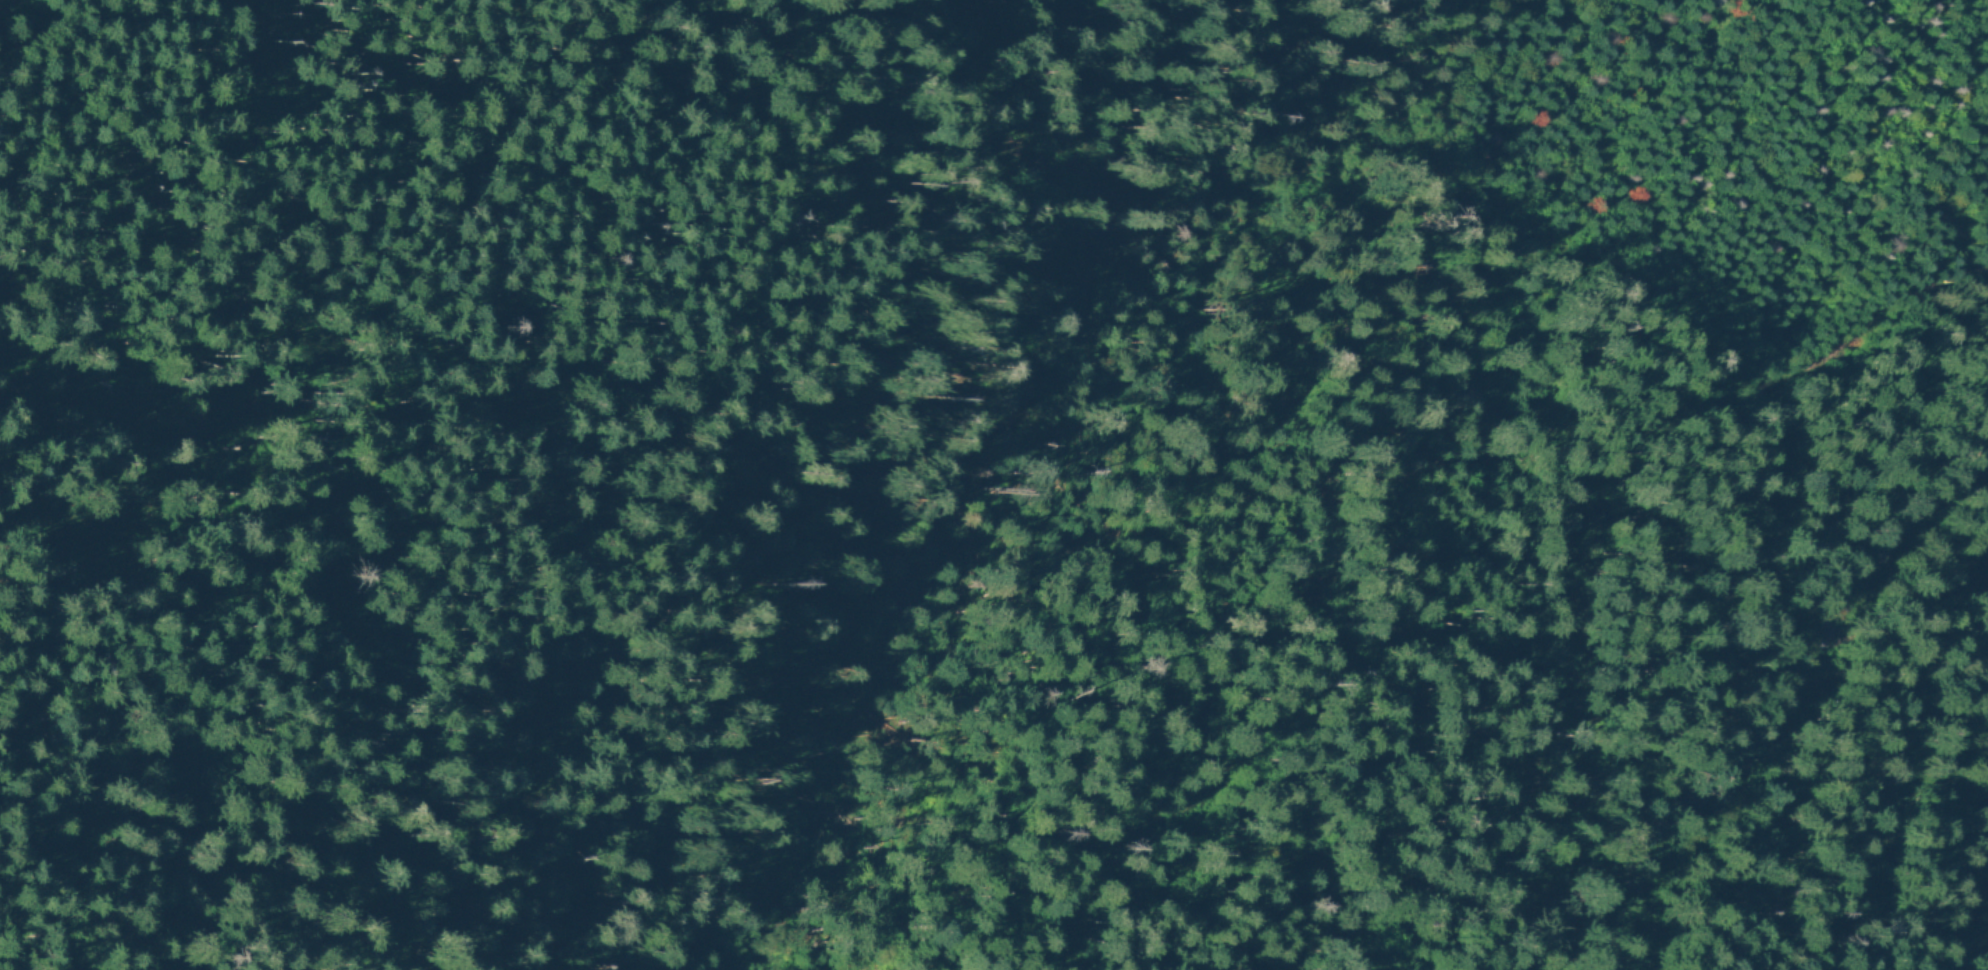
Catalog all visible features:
road: (1779, 710)

